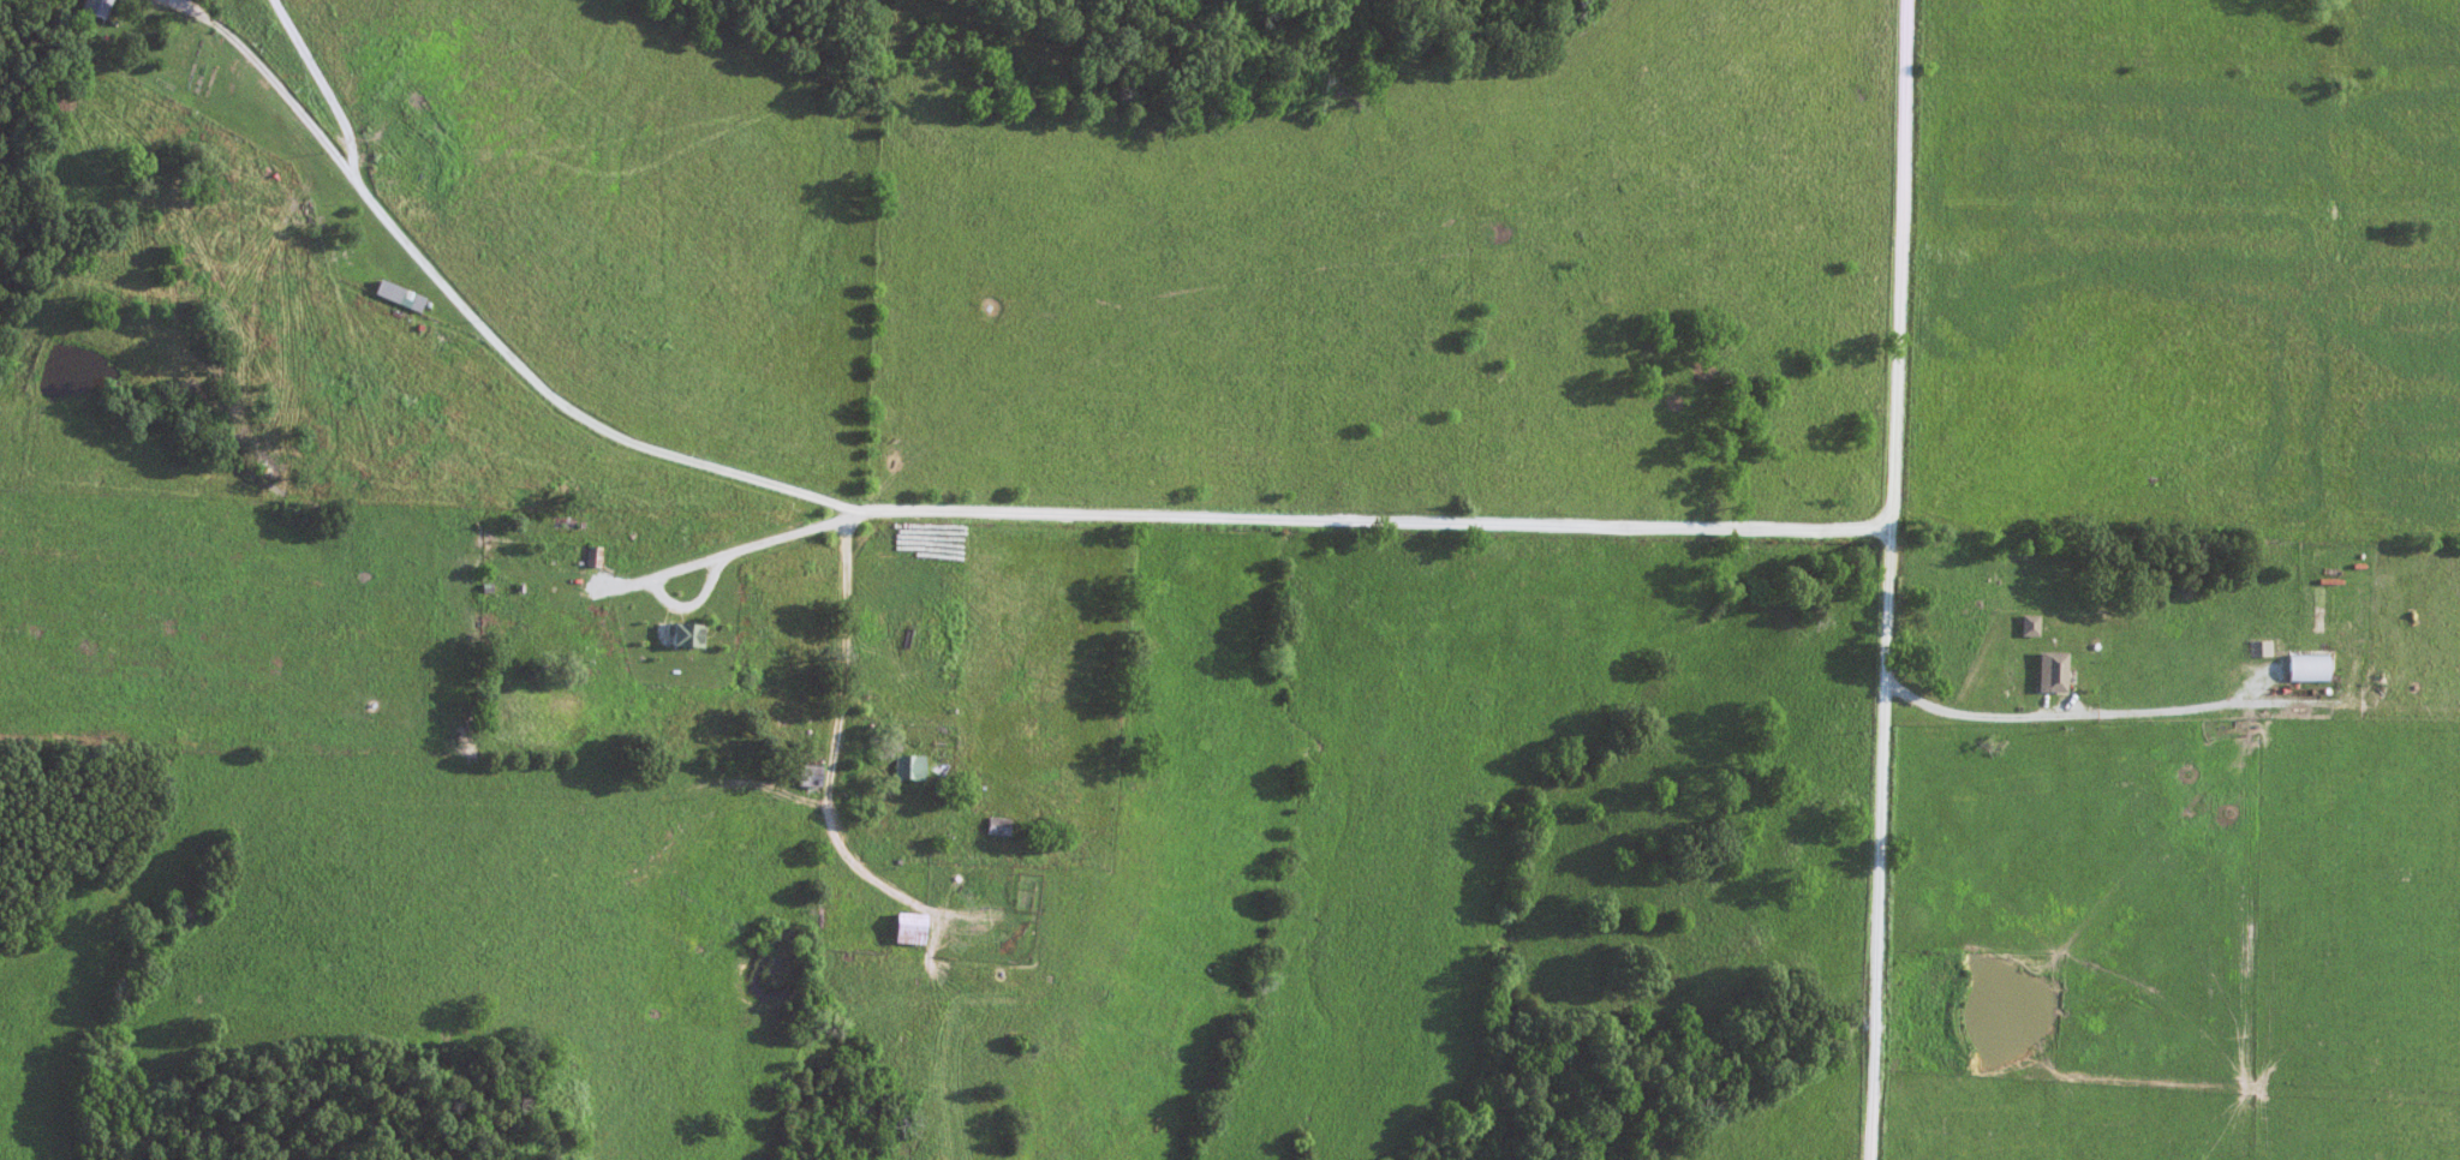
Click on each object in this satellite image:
road: (180, 1)
road: (184, 1)
building: (100, 8)
road: (324, 84)
building: (402, 297)
road: (479, 322)
road: (1228, 520)
building: (567, 526)
building: (596, 556)
road: (1887, 579)
building: (508, 632)
building: (2054, 671)
road: (864, 736)
road: (842, 742)
building: (913, 767)
building: (1001, 826)
building: (913, 928)

